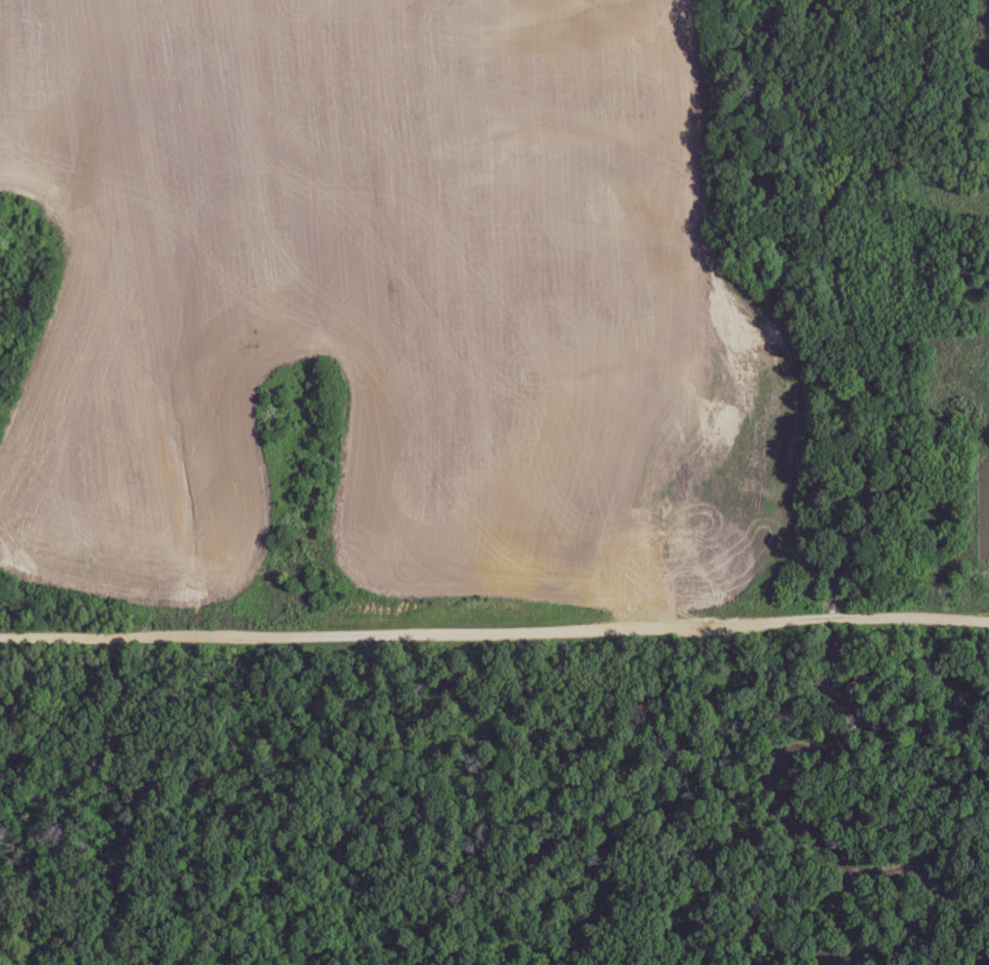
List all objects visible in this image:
road: (497, 633)

